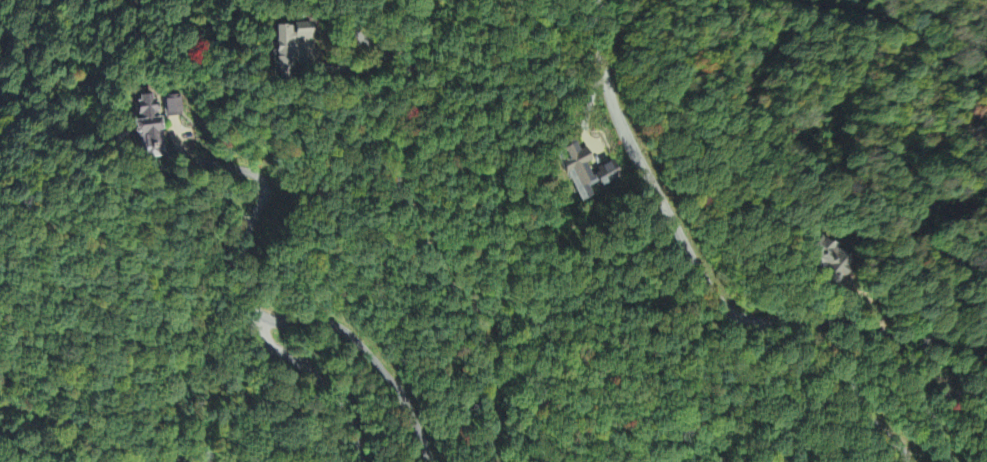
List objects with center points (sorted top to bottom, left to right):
road: (883, 30)
building: (289, 39)
building: (145, 130)
building: (577, 173)
building: (608, 175)
road: (416, 220)
building: (822, 255)
road: (700, 275)
road: (376, 361)
road: (896, 364)
road: (323, 380)

